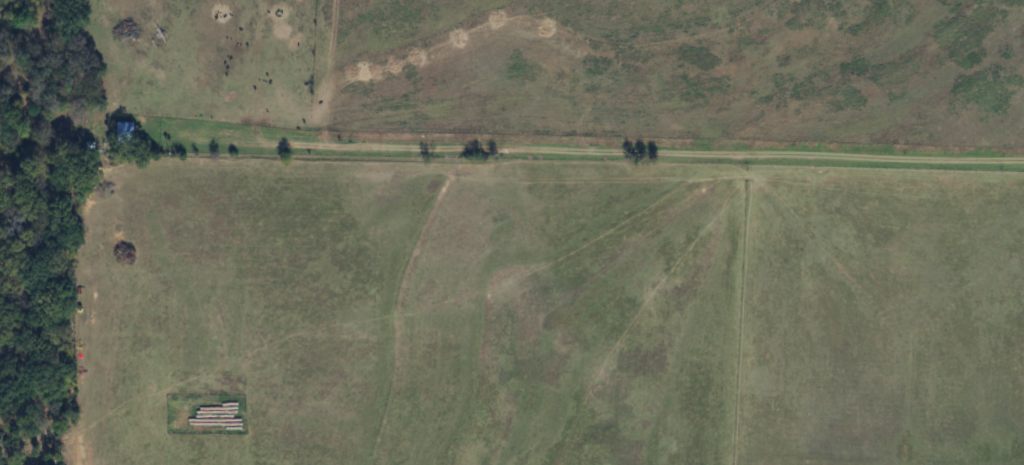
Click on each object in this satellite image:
road: (594, 149)

